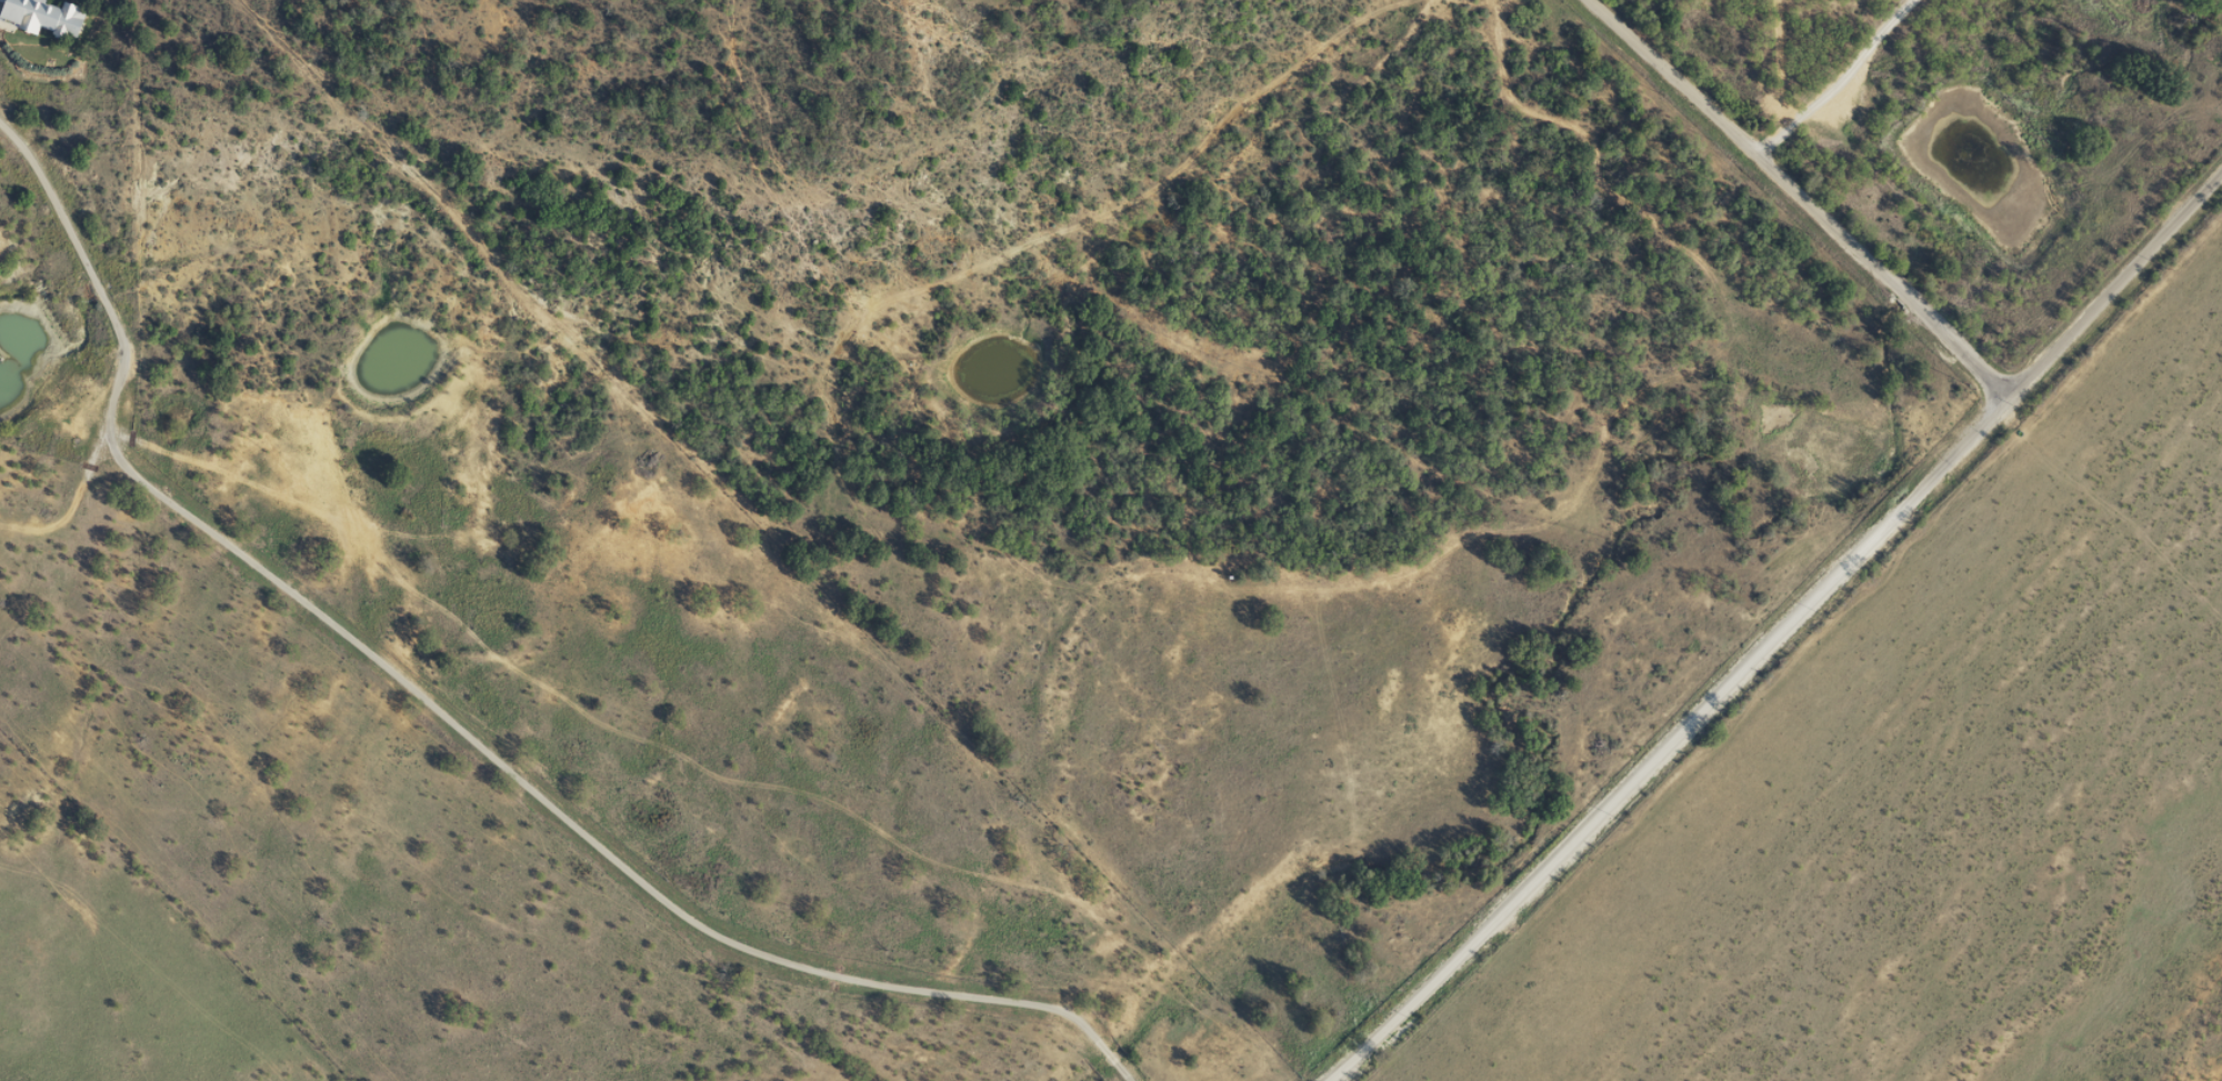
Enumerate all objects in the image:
building: (39, 17)
road: (1772, 66)
road: (1783, 188)
road: (2102, 279)
road: (1647, 734)

